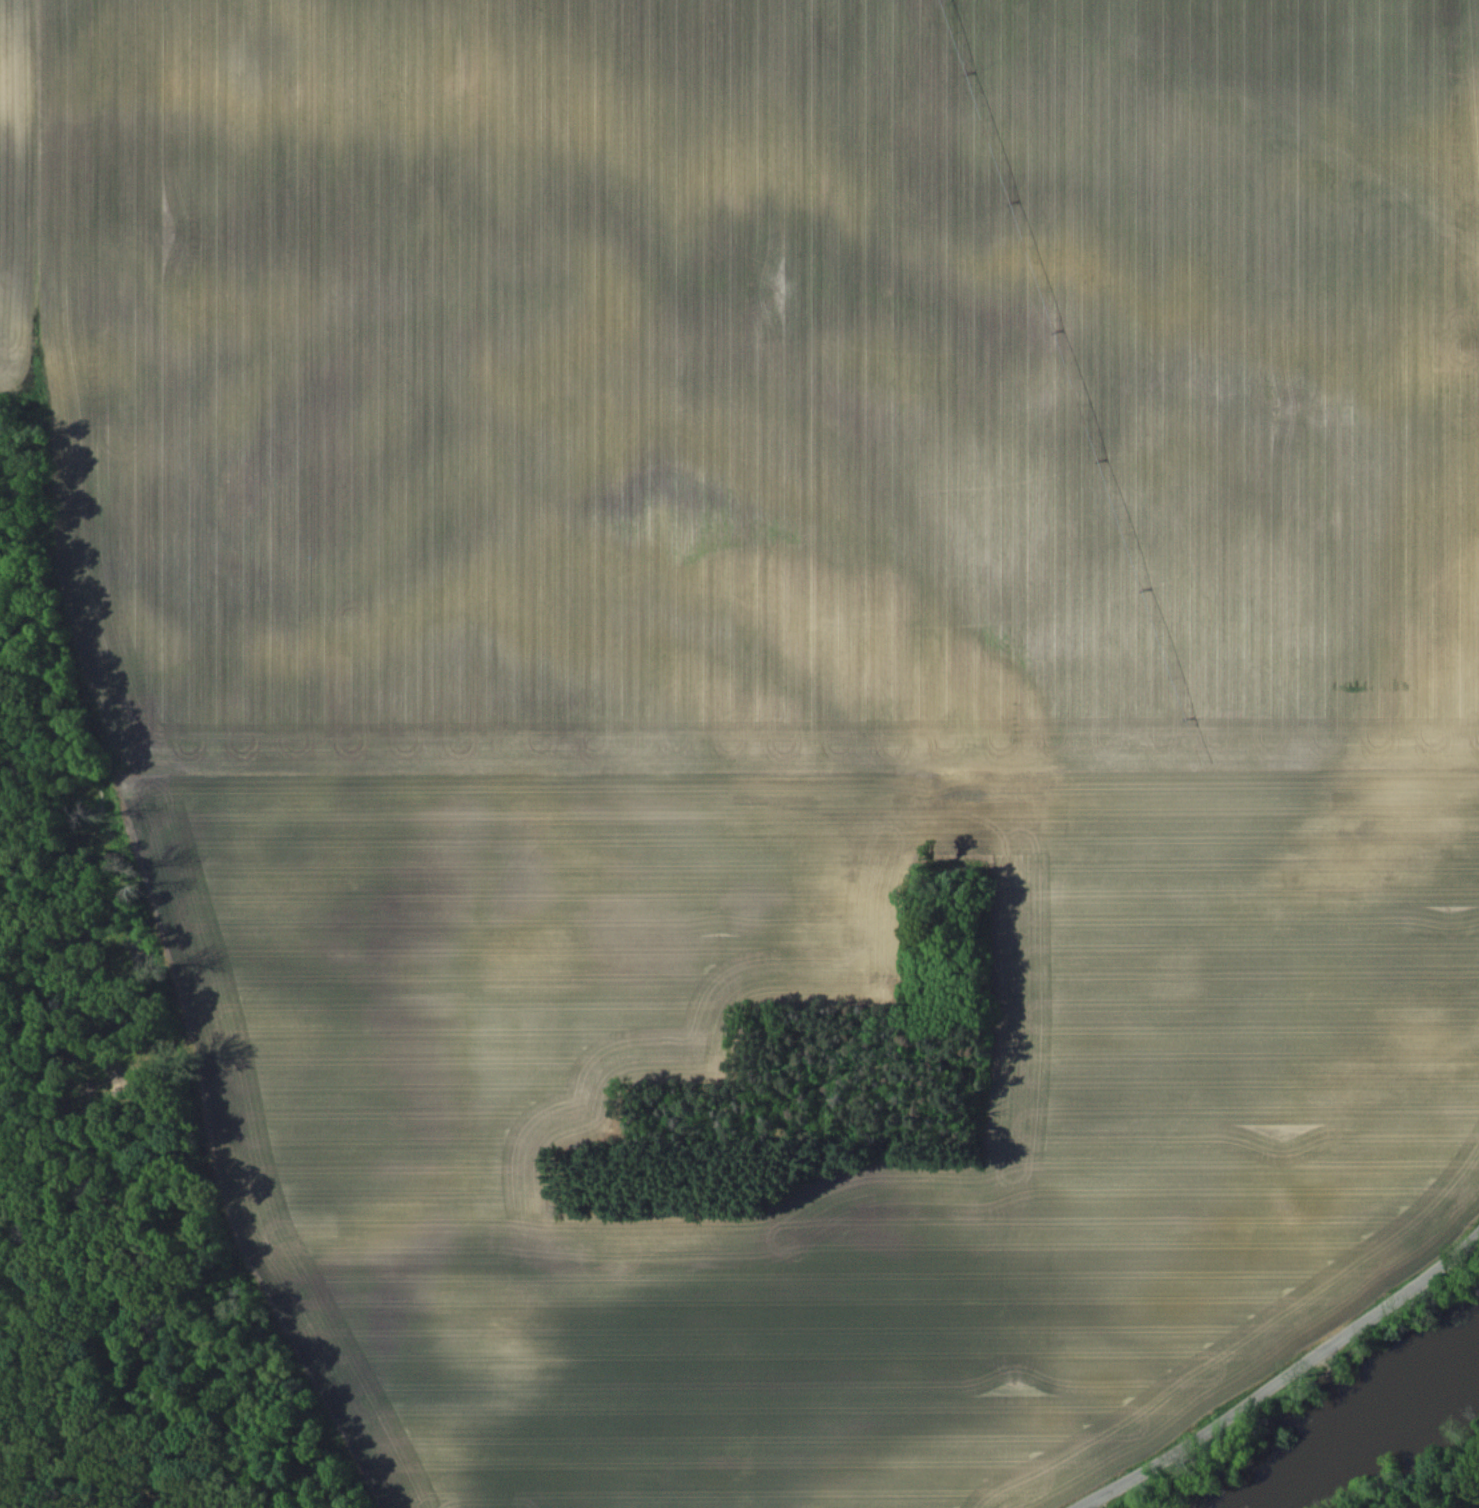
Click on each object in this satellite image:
road: (1276, 1376)
river: (1375, 1430)

